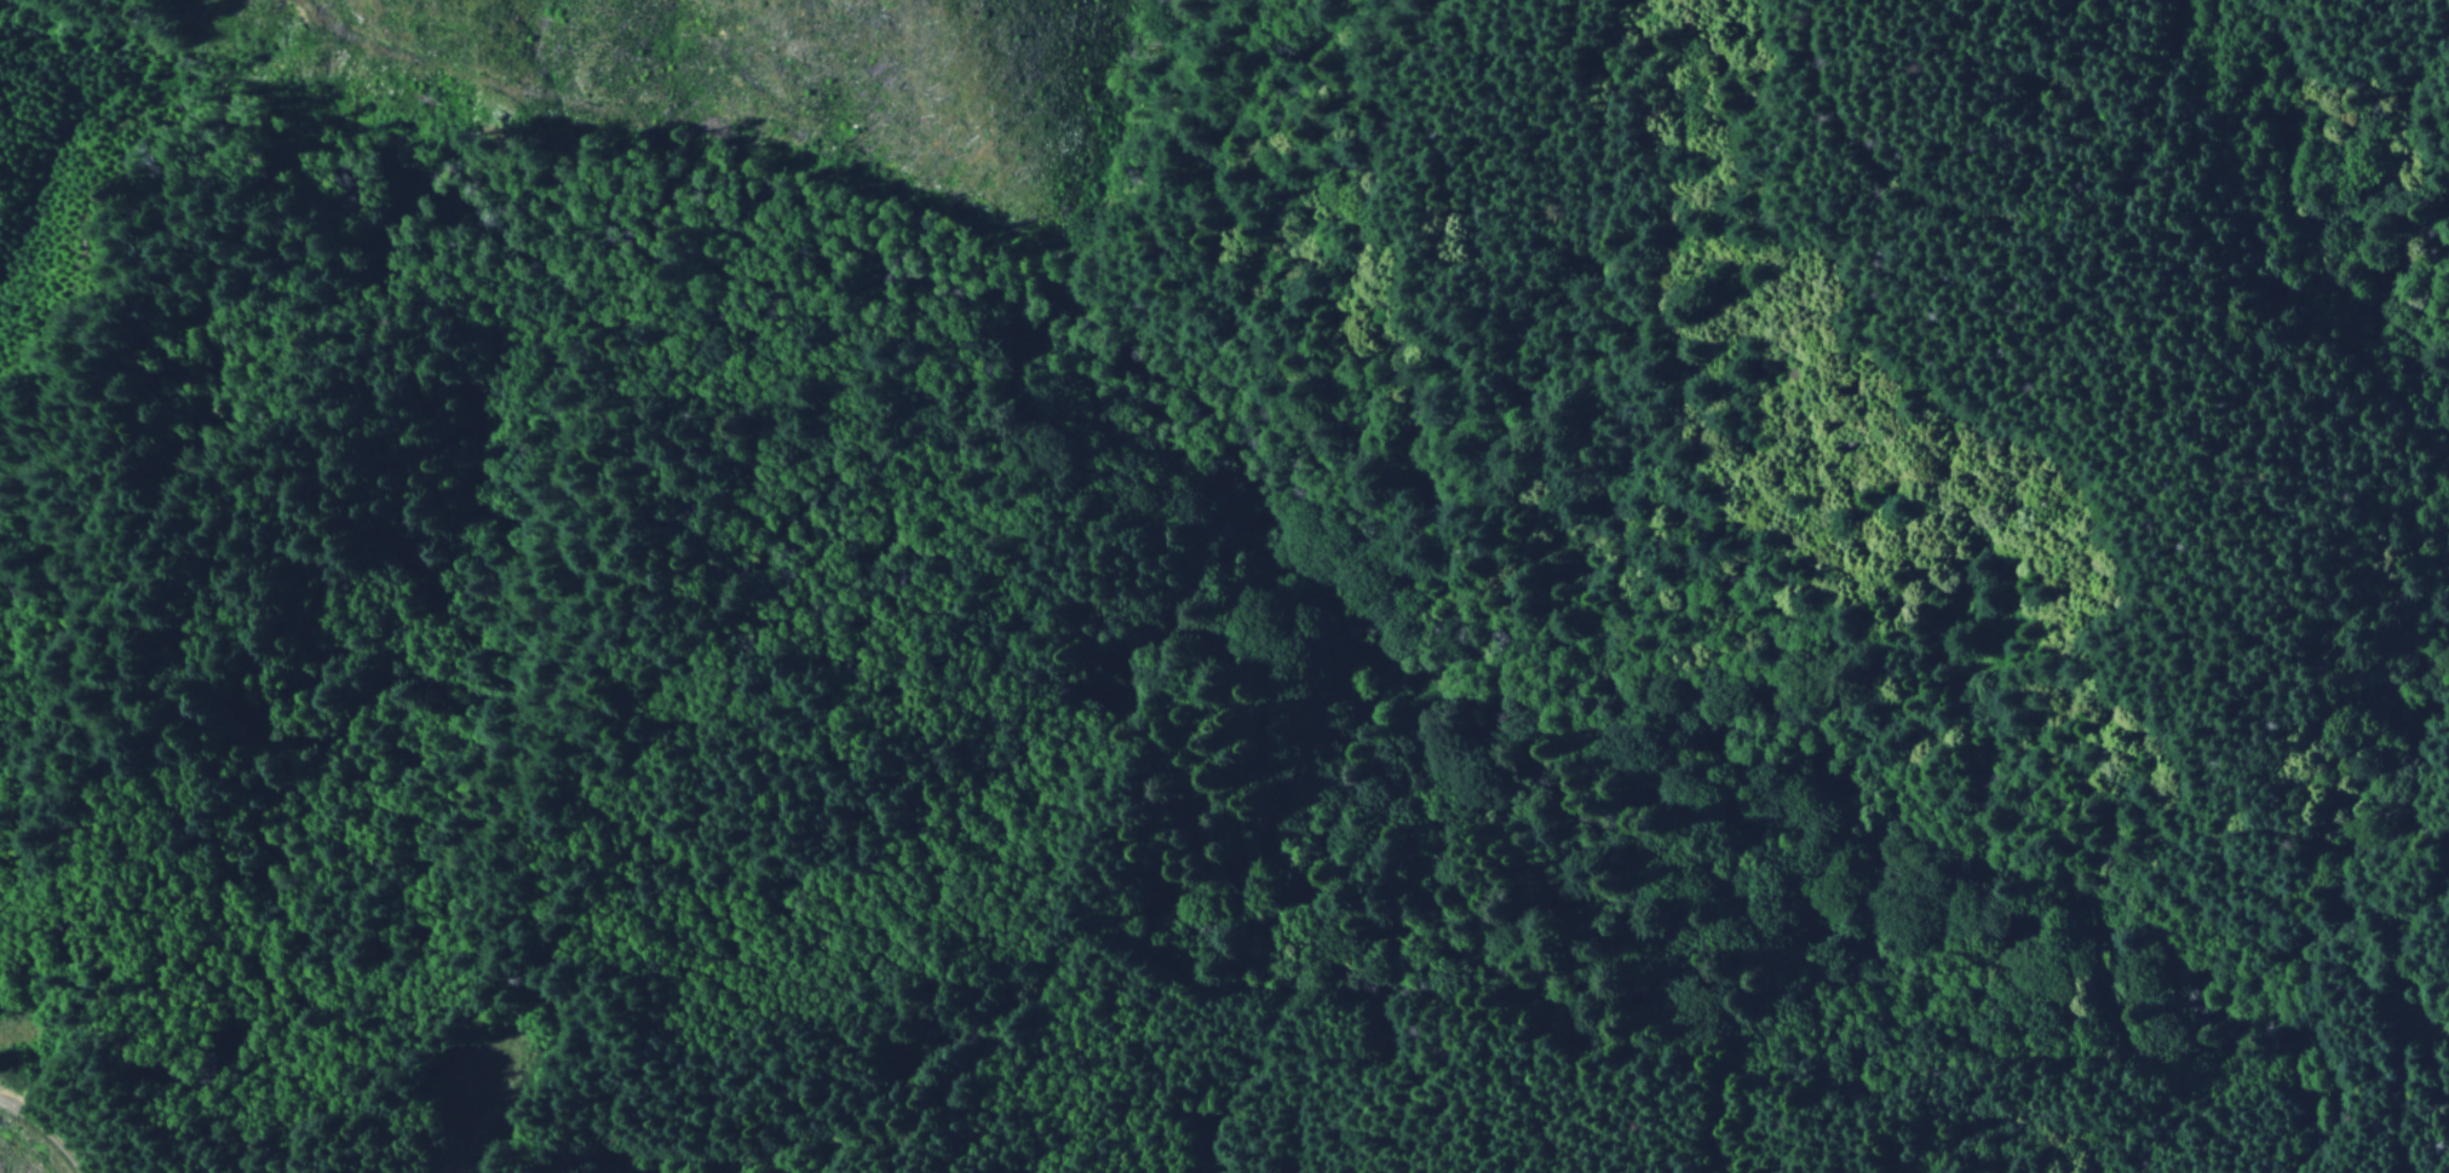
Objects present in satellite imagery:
road: (2173, 132)
road: (1346, 487)
road: (1098, 987)

